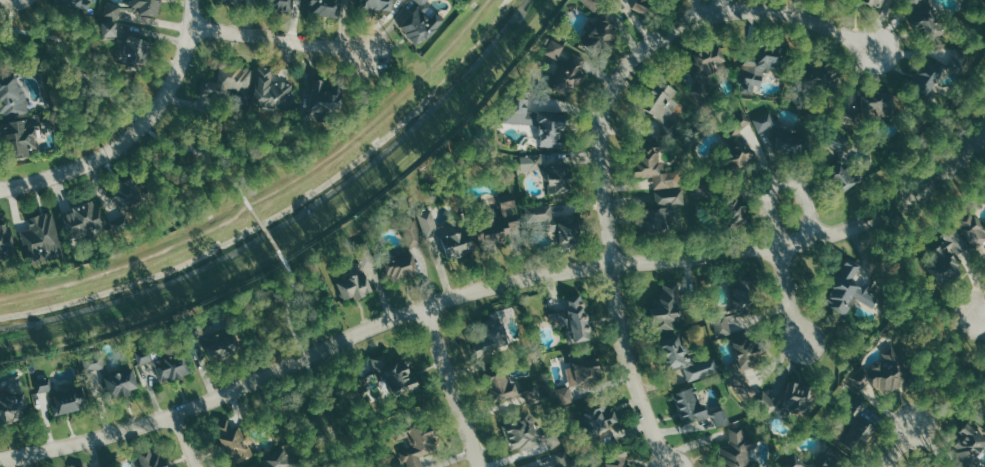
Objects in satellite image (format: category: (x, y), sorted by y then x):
building: (235, 1)
building: (247, 1)
building: (873, 2)
building: (277, 4)
building: (375, 4)
building: (74, 5)
building: (640, 5)
road: (721, 5)
building: (145, 6)
road: (696, 6)
building: (322, 7)
road: (12, 15)
building: (111, 19)
building: (926, 20)
building: (420, 22)
building: (599, 24)
road: (280, 40)
building: (136, 52)
building: (766, 65)
building: (562, 69)
building: (935, 69)
building: (705, 70)
building: (813, 79)
building: (228, 85)
building: (12, 95)
building: (273, 95)
building: (324, 100)
road: (118, 101)
building: (661, 106)
building: (867, 107)
road: (380, 115)
building: (539, 120)
road: (135, 131)
road: (604, 131)
building: (784, 134)
building: (21, 136)
building: (736, 147)
building: (839, 162)
building: (651, 163)
building: (552, 173)
building: (720, 200)
building: (127, 207)
building: (659, 212)
road: (260, 218)
building: (493, 218)
road: (771, 220)
building: (84, 222)
building: (556, 222)
building: (972, 227)
road: (309, 229)
building: (447, 233)
building: (41, 238)
building: (6, 248)
building: (402, 255)
building: (940, 260)
road: (130, 262)
building: (357, 276)
road: (494, 285)
building: (846, 290)
building: (736, 303)
building: (665, 308)
road: (984, 311)
building: (573, 320)
road: (915, 328)
building: (492, 334)
building: (216, 339)
road: (948, 349)
building: (682, 355)
road: (305, 359)
building: (746, 360)
building: (162, 363)
building: (887, 371)
building: (580, 372)
building: (110, 373)
building: (391, 376)
road: (455, 386)
building: (506, 386)
road: (941, 391)
building: (61, 394)
building: (787, 399)
building: (12, 406)
building: (696, 406)
building: (592, 420)
building: (853, 427)
building: (526, 431)
building: (411, 439)
road: (187, 440)
building: (233, 440)
building: (968, 445)
road: (900, 446)
building: (735, 449)
building: (278, 457)
building: (149, 458)
building: (561, 458)
building: (612, 459)
building: (821, 459)
road: (19, 462)
building: (935, 465)
building: (83, 466)
building: (543, 466)

